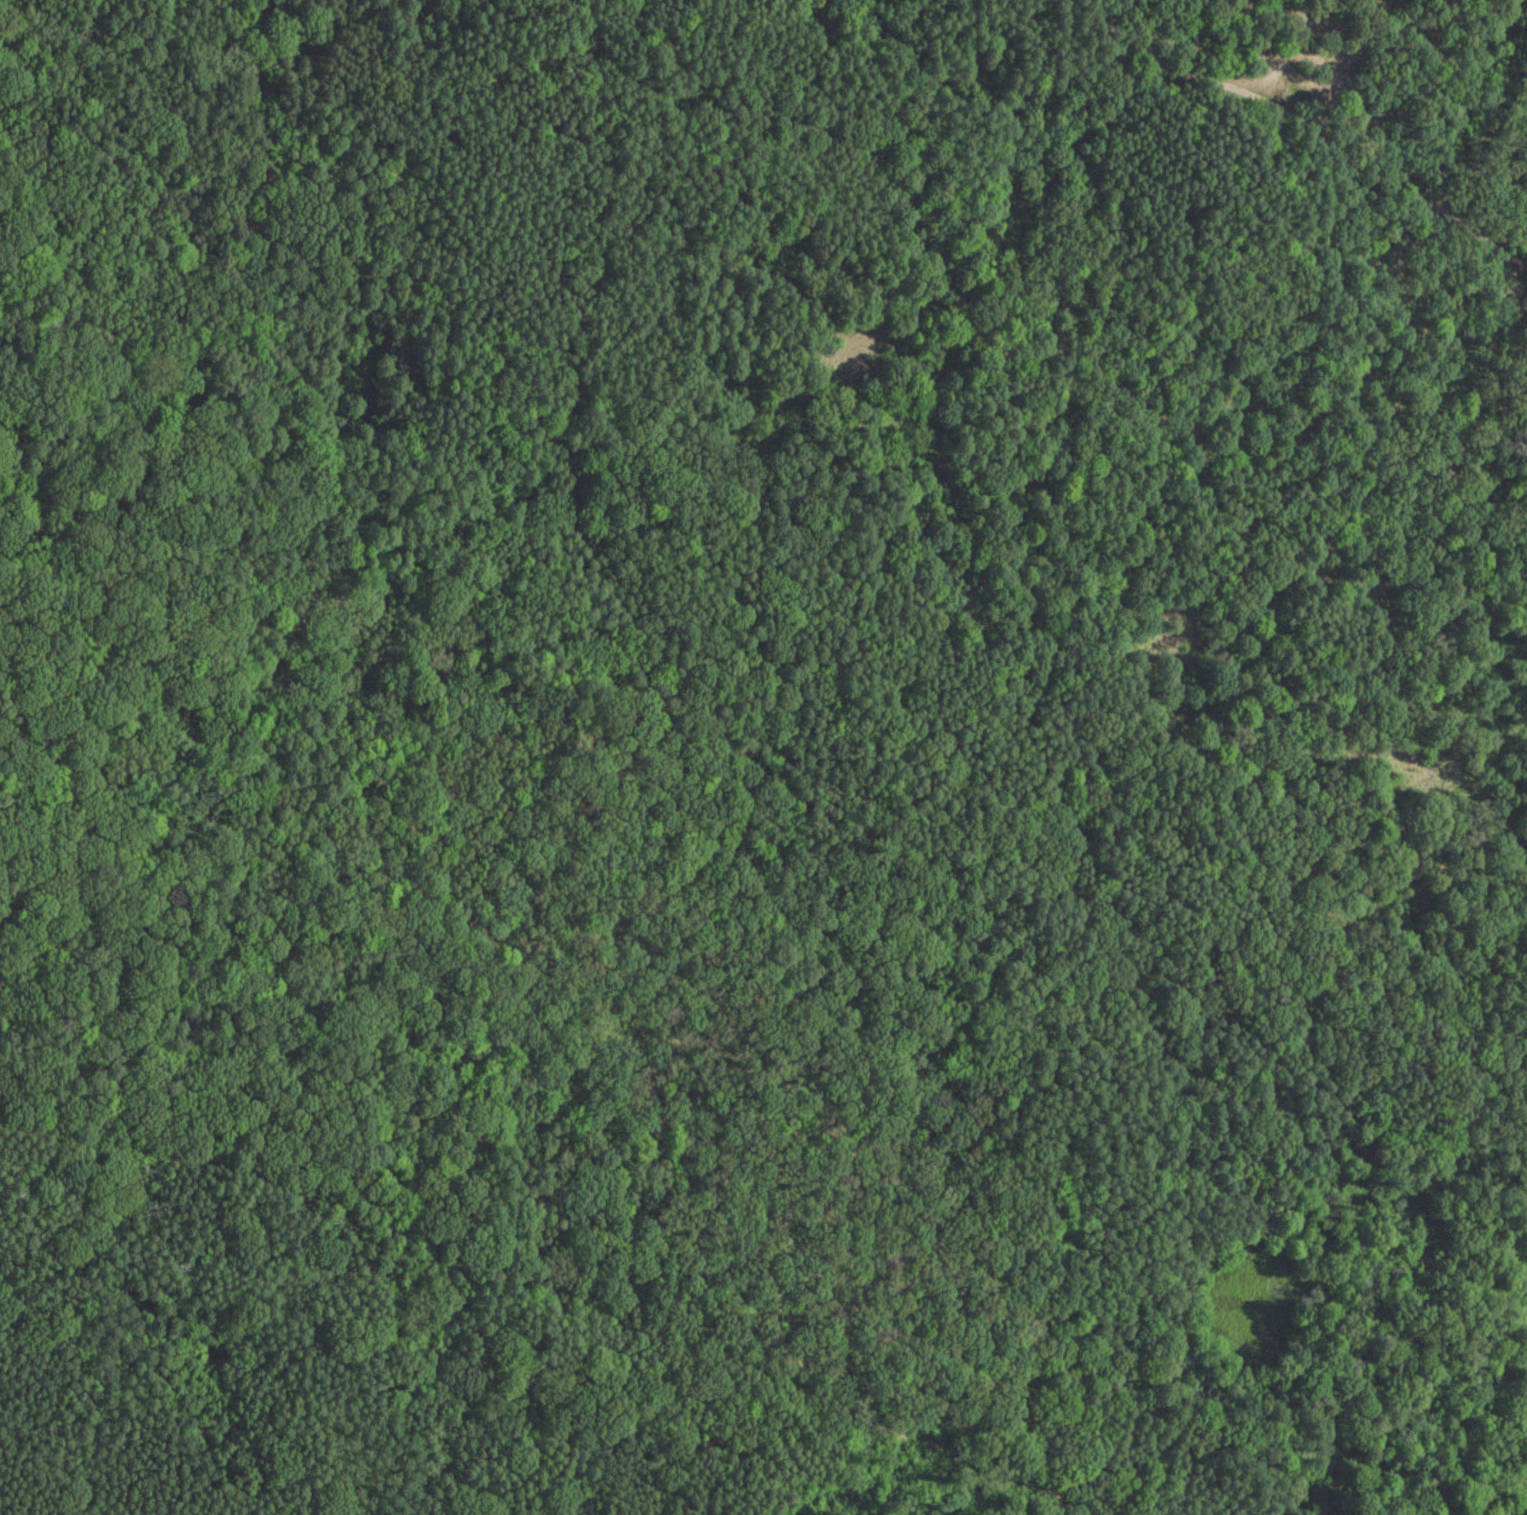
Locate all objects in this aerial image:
road: (1308, 137)
road: (332, 1212)
road: (683, 1339)

